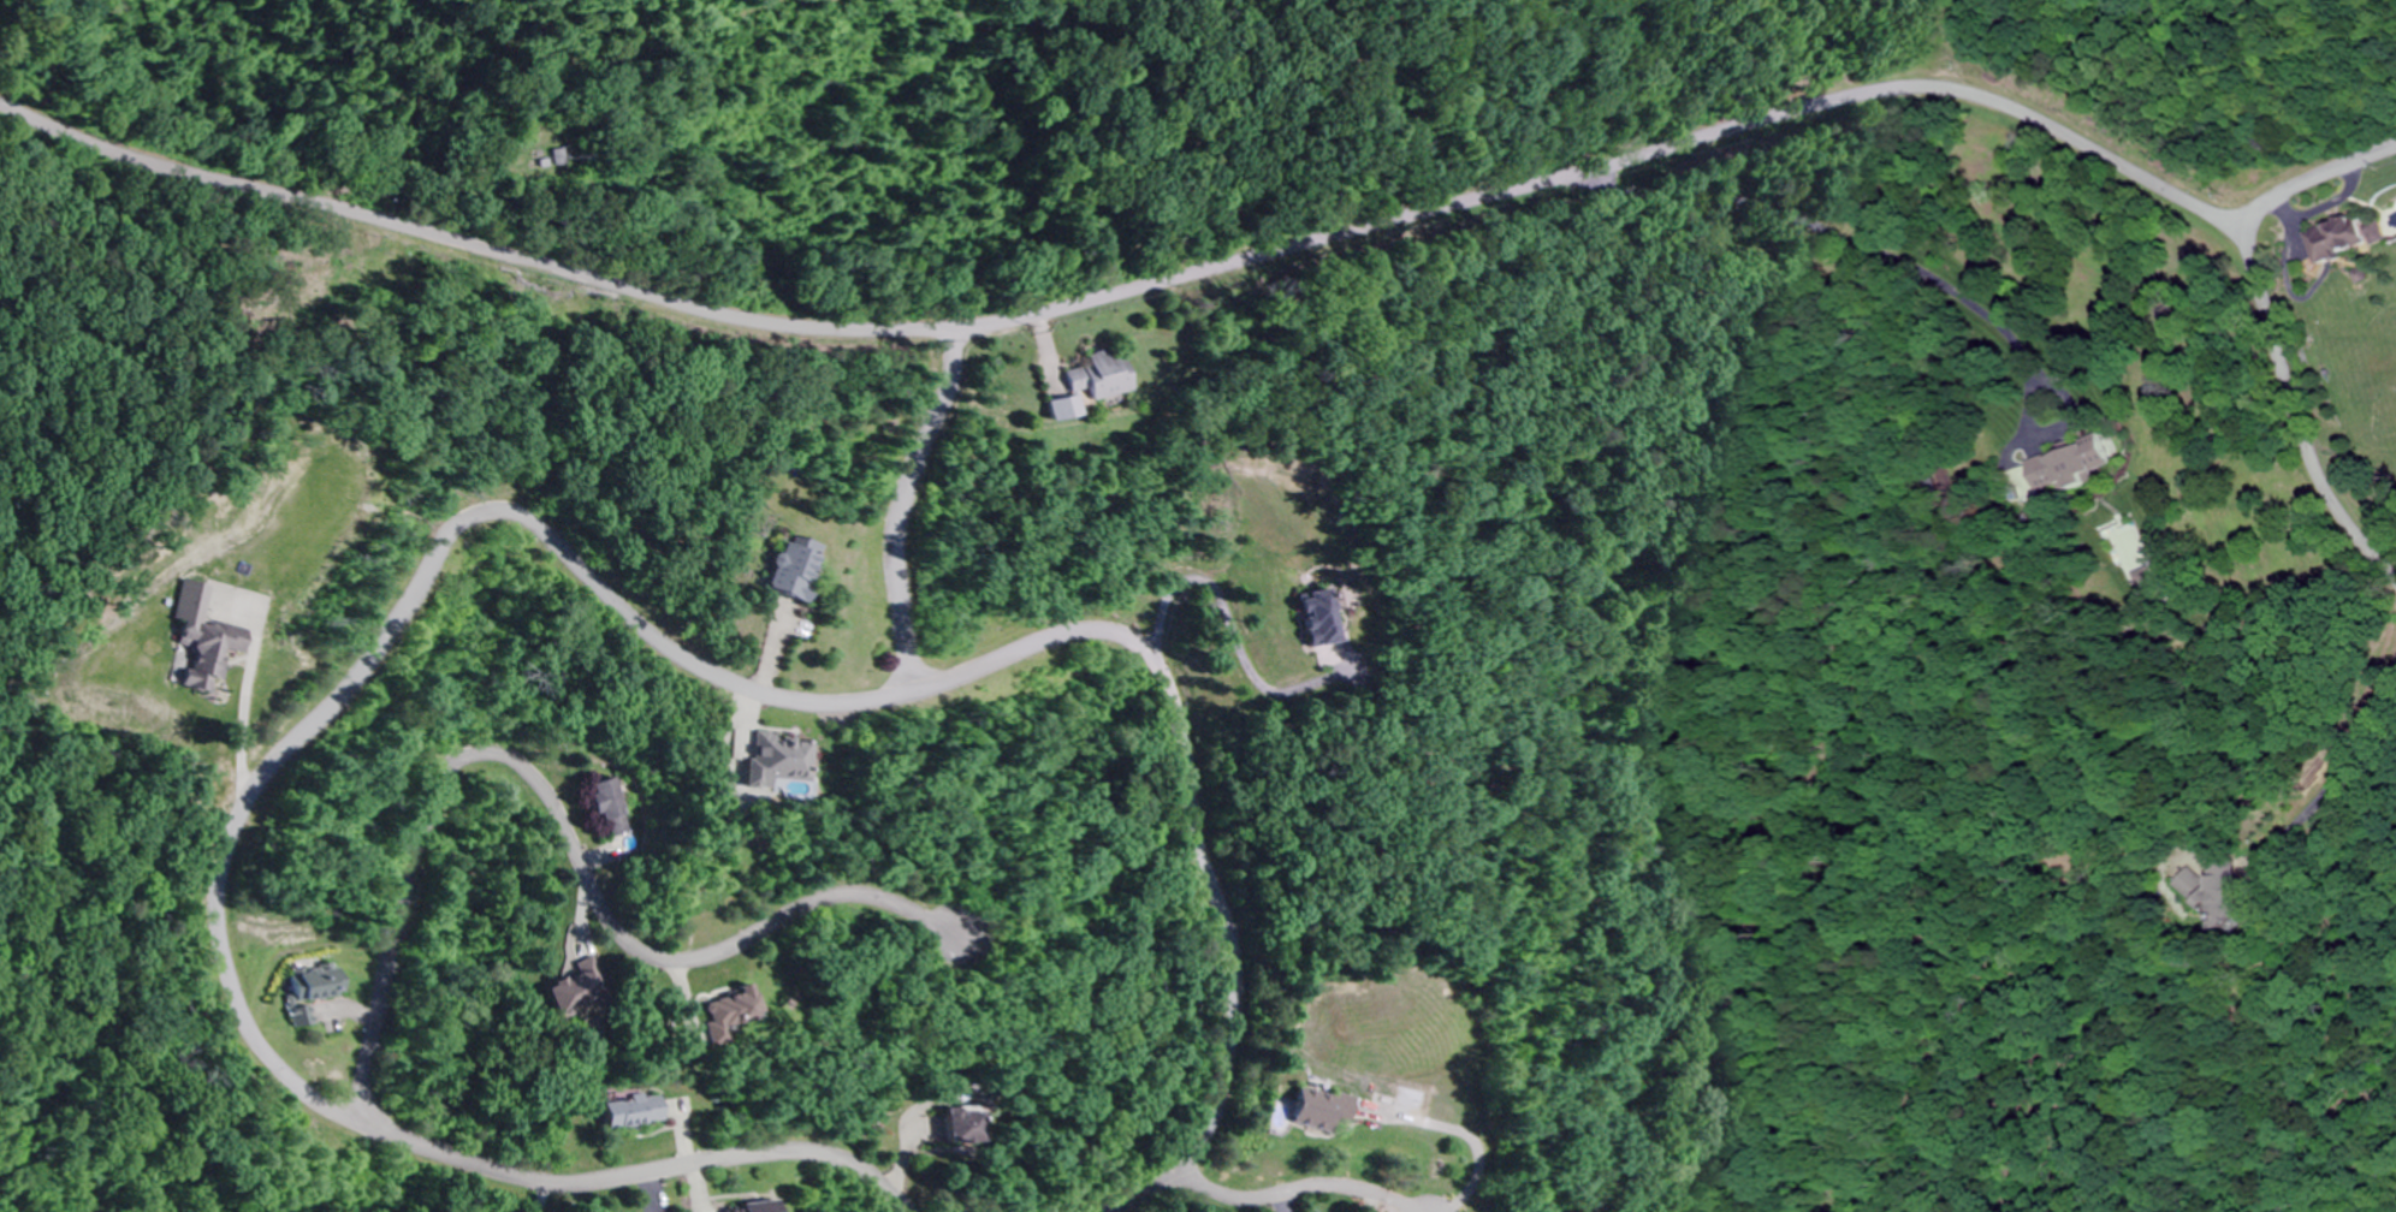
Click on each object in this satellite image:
road: (85, 64)
road: (2315, 177)
road: (1129, 290)
building: (1104, 374)
road: (2295, 409)
road: (900, 505)
road: (456, 527)
building: (807, 571)
building: (1323, 616)
building: (200, 655)
building: (782, 766)
road: (542, 797)
building: (609, 808)
road: (938, 943)
building: (585, 974)
building: (328, 984)
building: (304, 1016)
building: (637, 1109)
building: (1319, 1116)
building: (967, 1124)
road: (1140, 1192)
road: (1281, 1192)
road: (1415, 1205)
building: (760, 1207)

